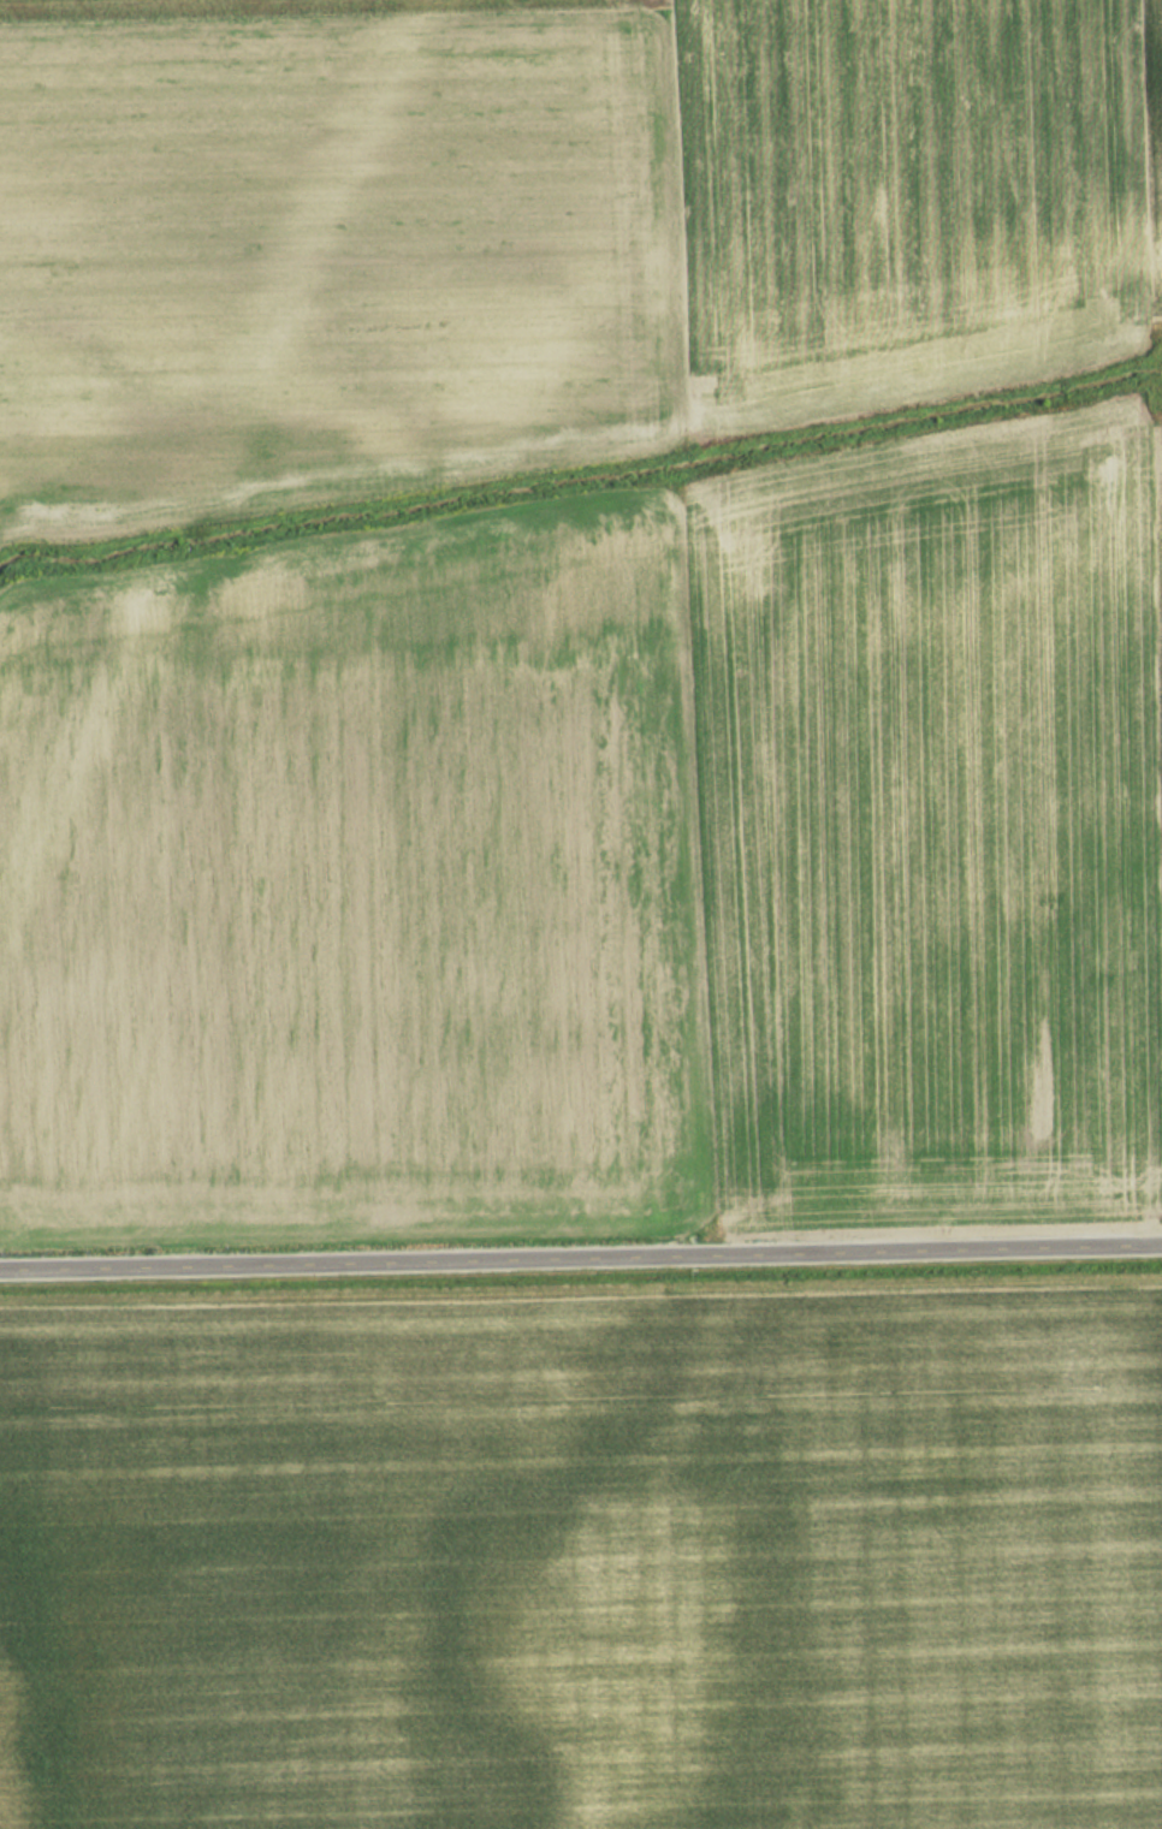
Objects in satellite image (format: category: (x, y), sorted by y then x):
crop: (557, 206)
crop: (604, 856)
road: (581, 1251)
crop: (585, 1561)

